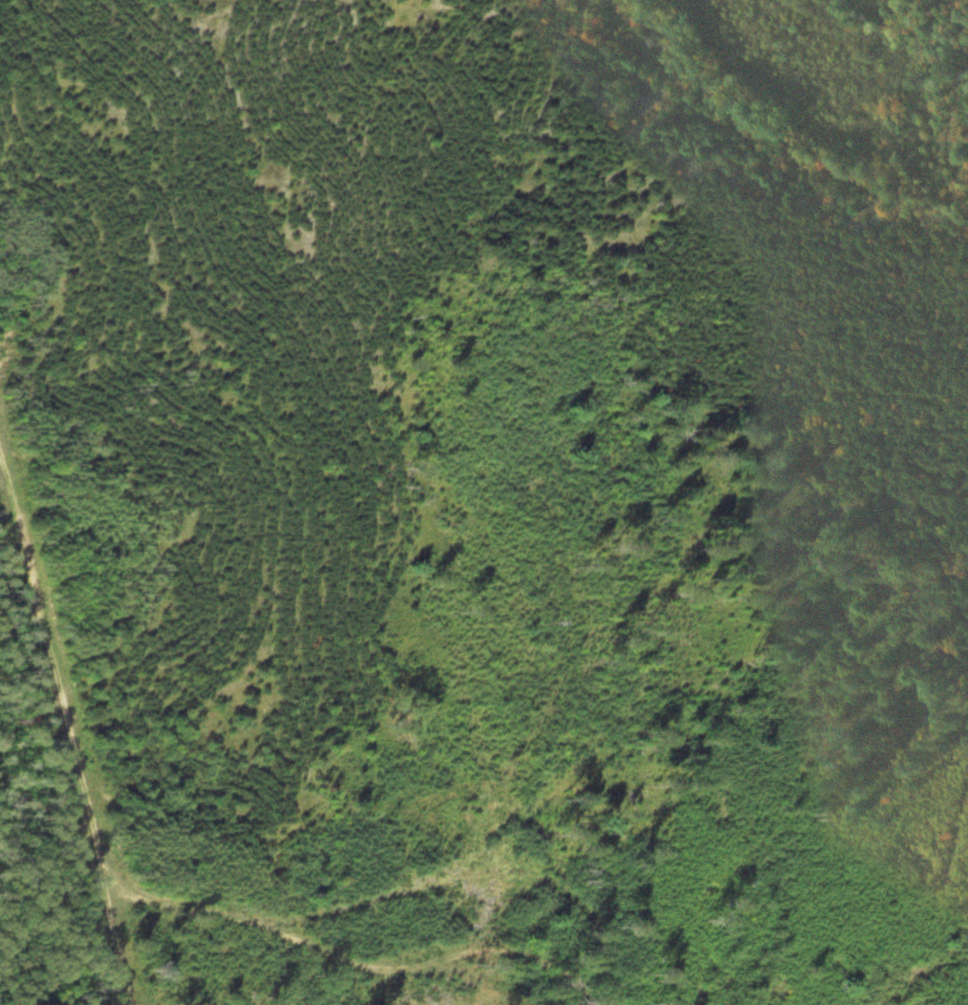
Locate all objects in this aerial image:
road: (66, 722)

